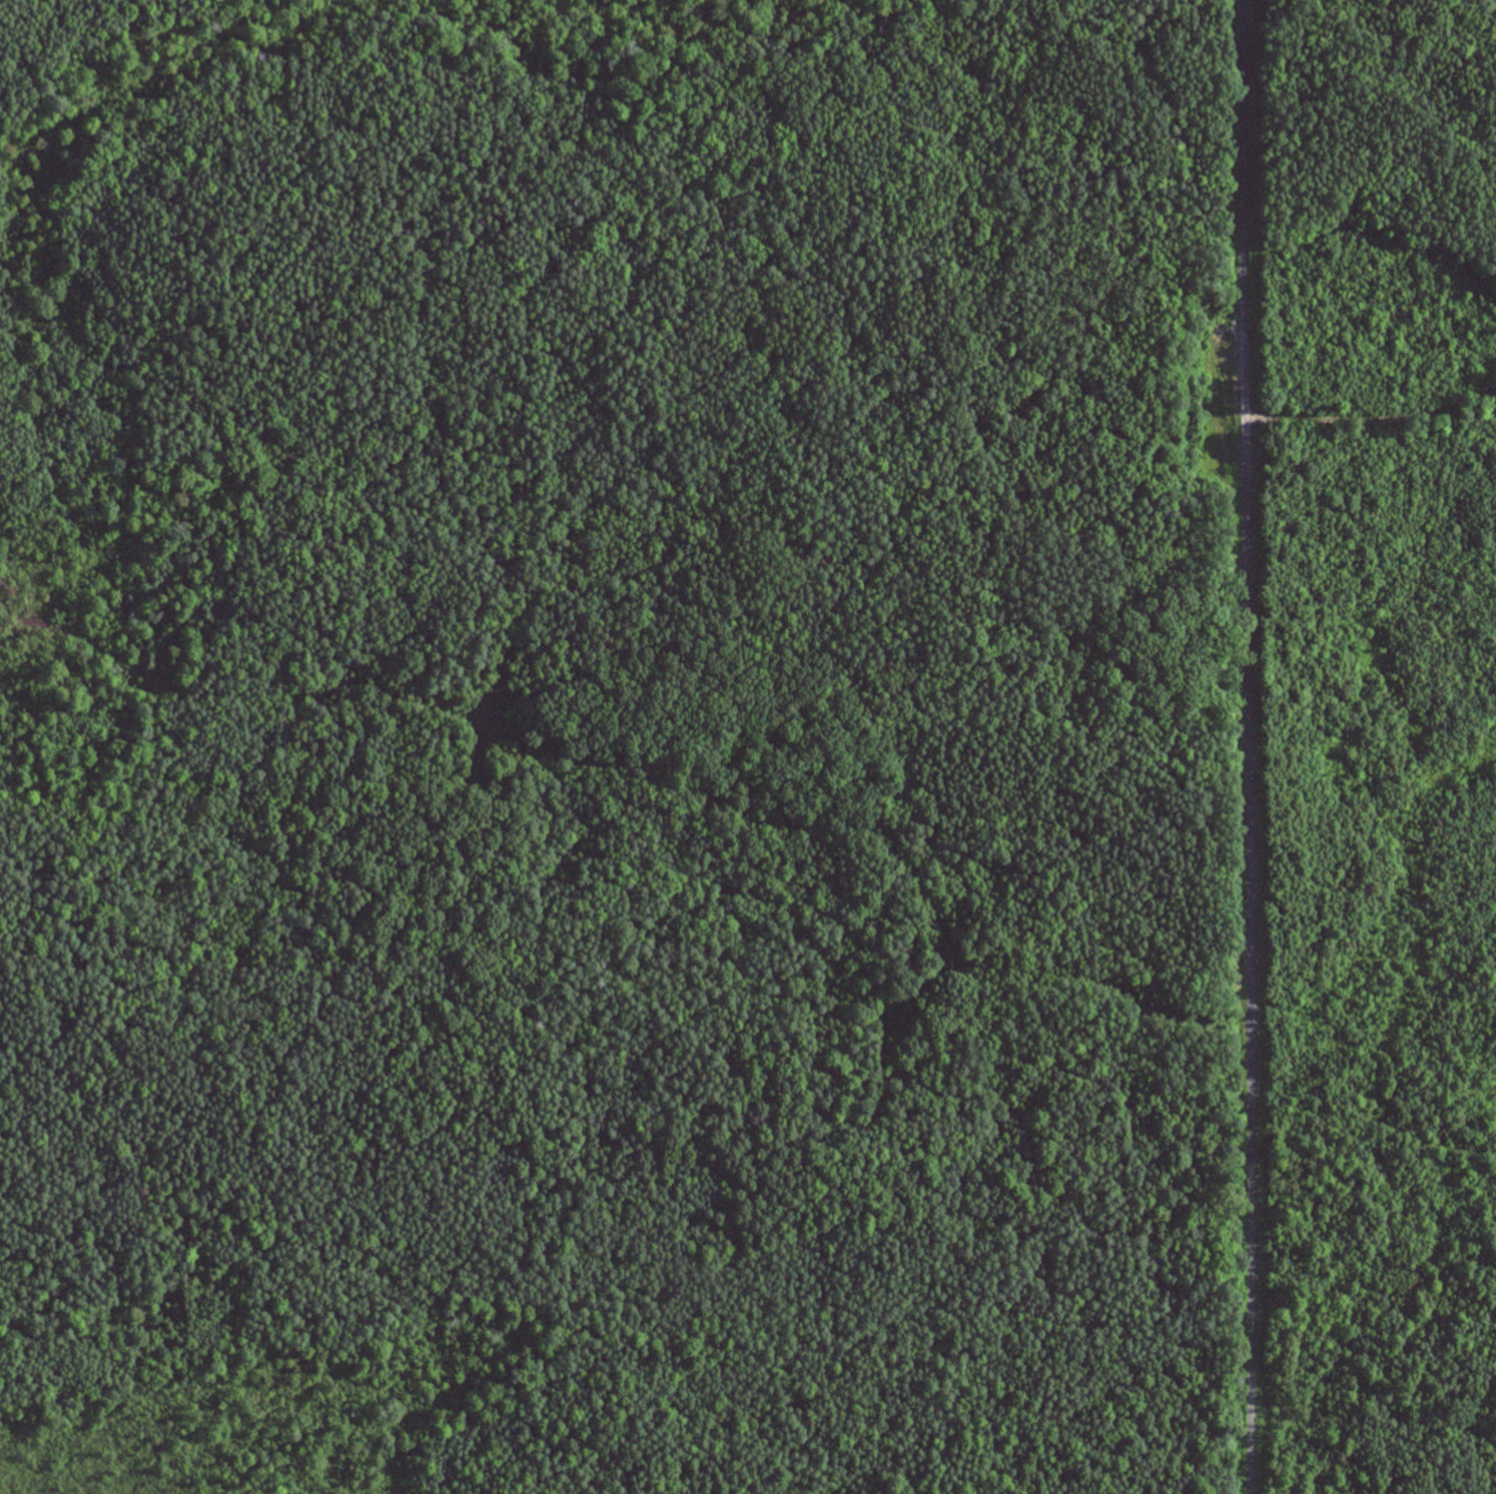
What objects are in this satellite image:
road: (1246, 746)

